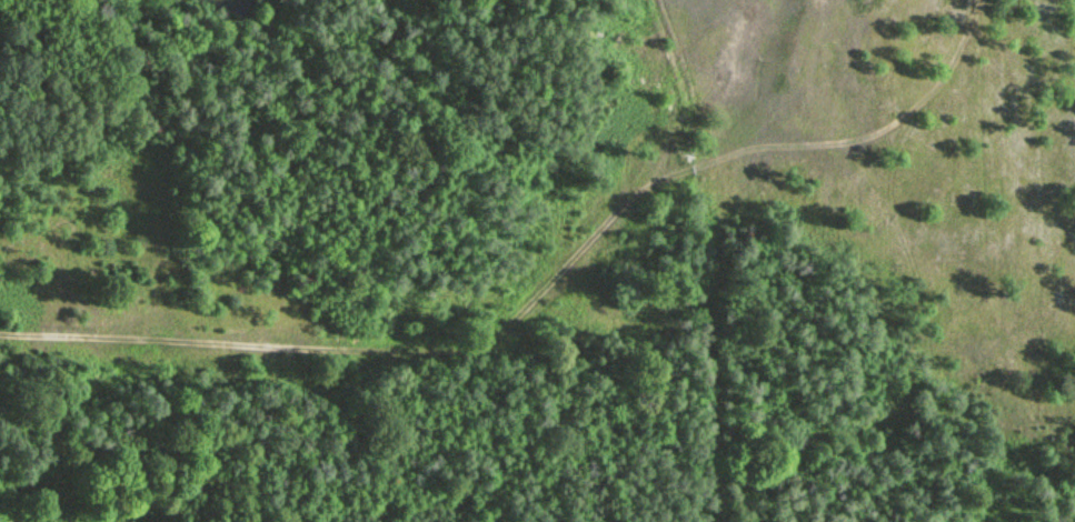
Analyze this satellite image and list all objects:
road: (898, 126)
road: (414, 352)

